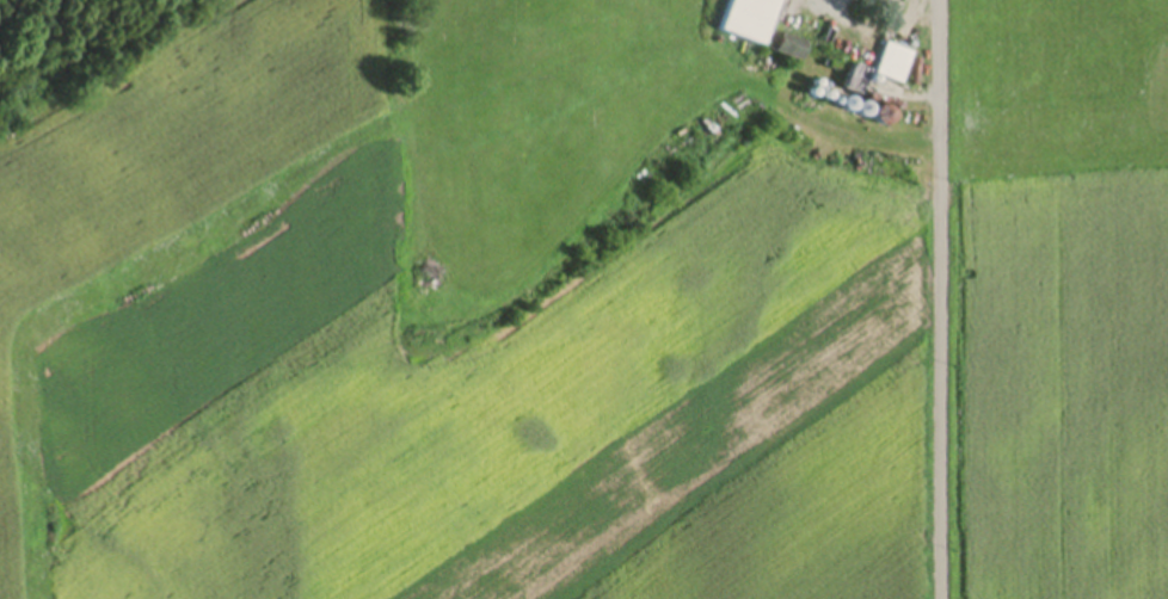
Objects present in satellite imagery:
building: (891, 66)
road: (938, 299)

